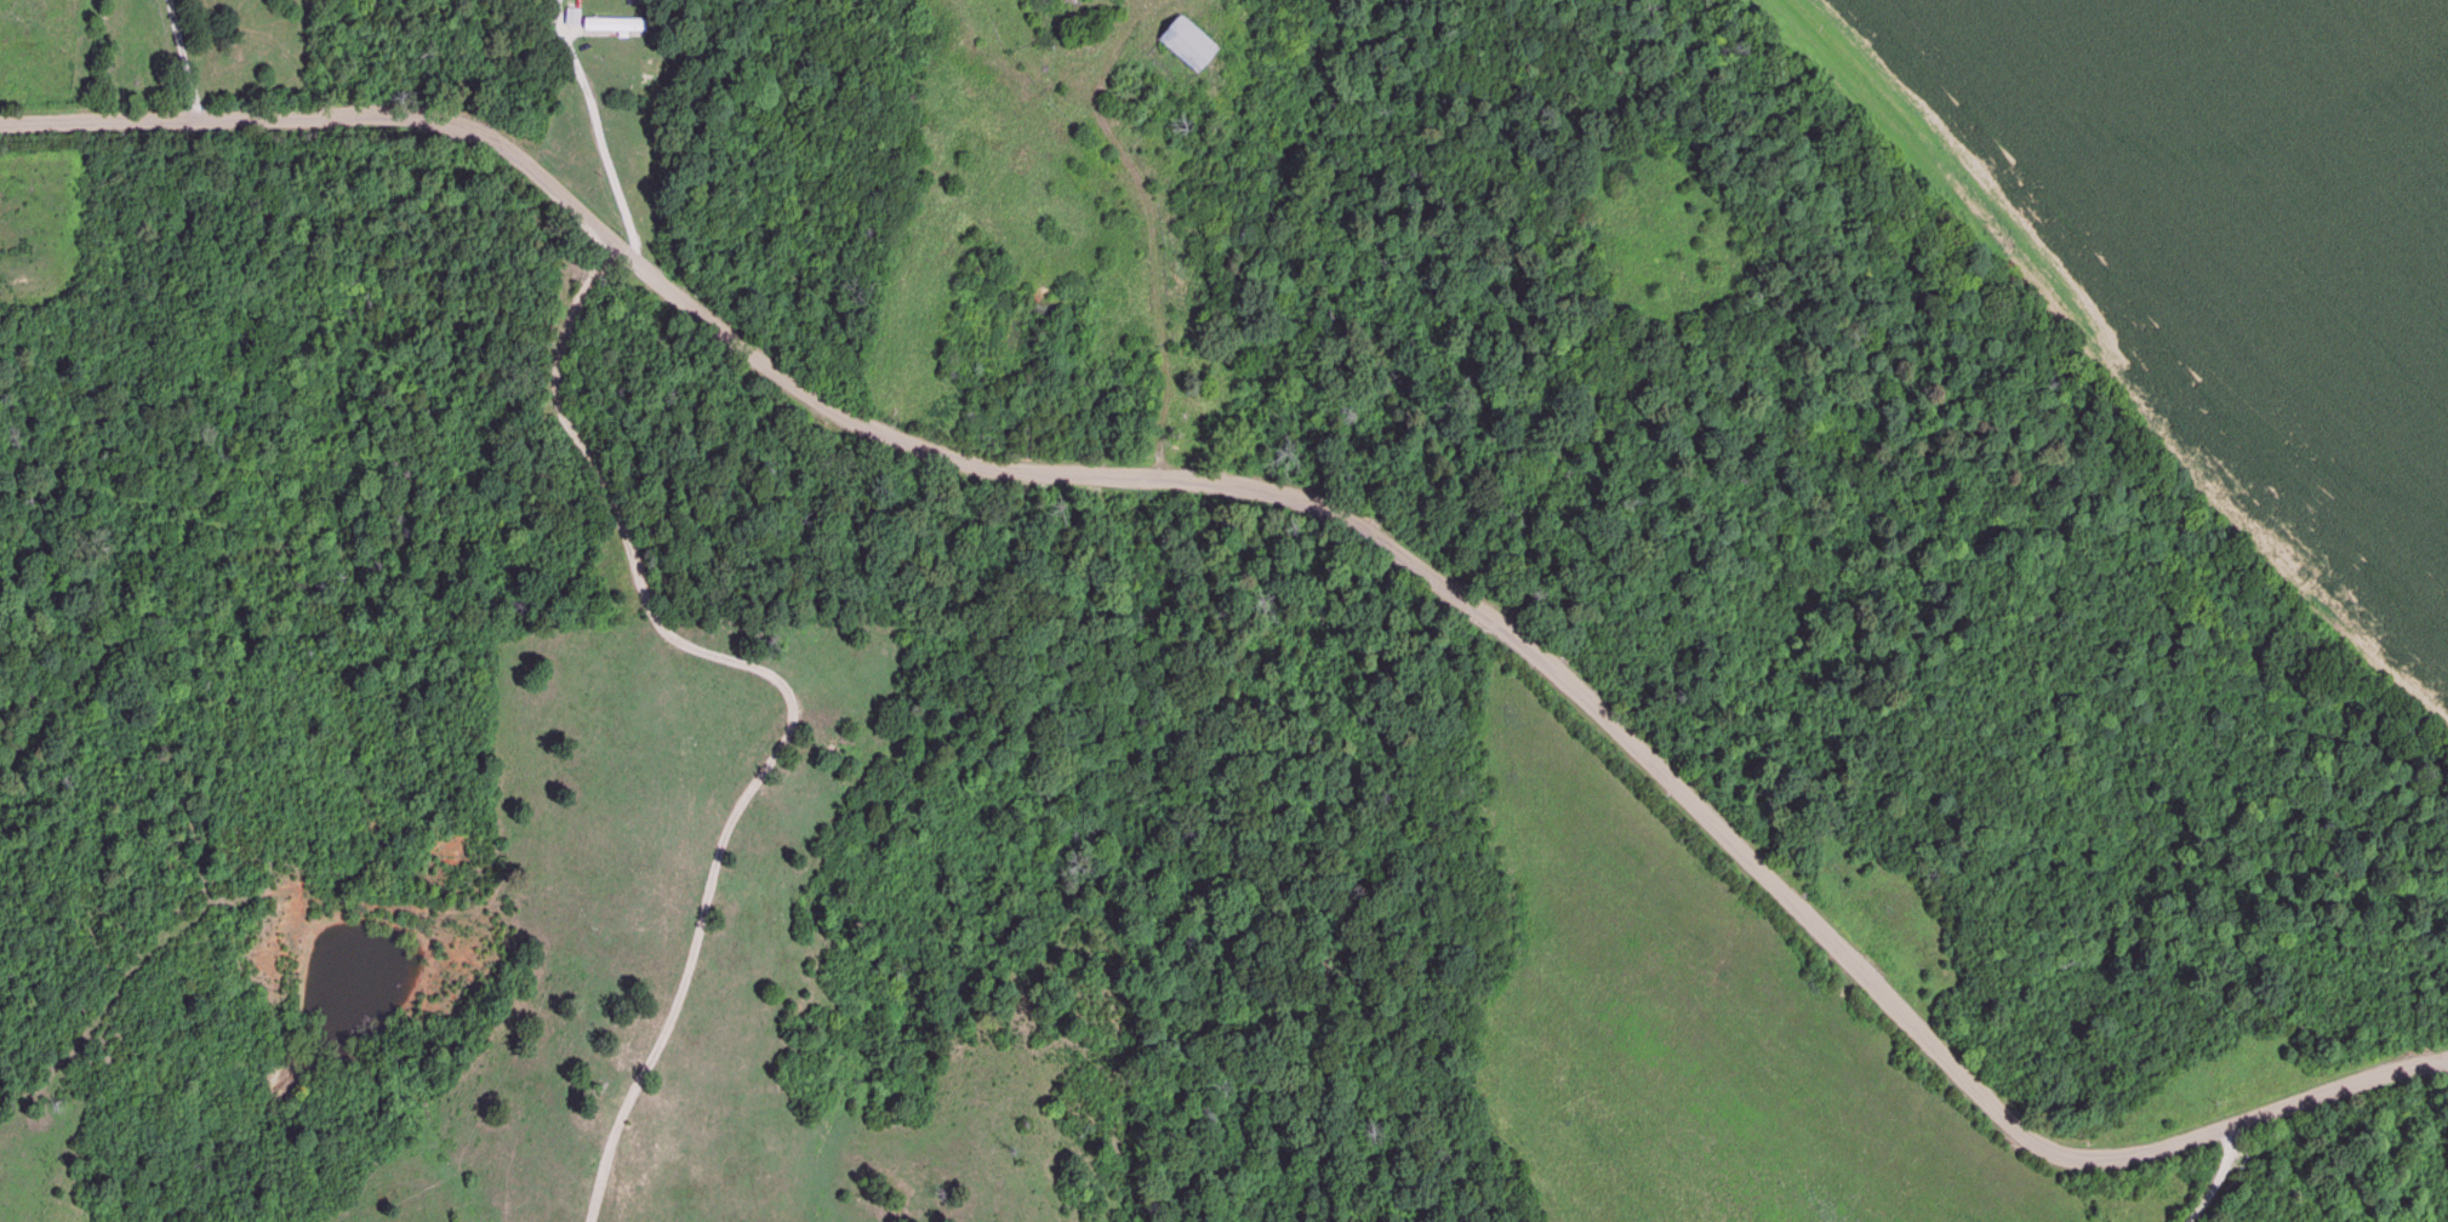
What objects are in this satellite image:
building: (571, 16)
building: (615, 24)
building: (1183, 41)
road: (183, 58)
road: (605, 132)
road: (1149, 221)
road: (1299, 495)
road: (781, 687)
road: (2218, 1177)

